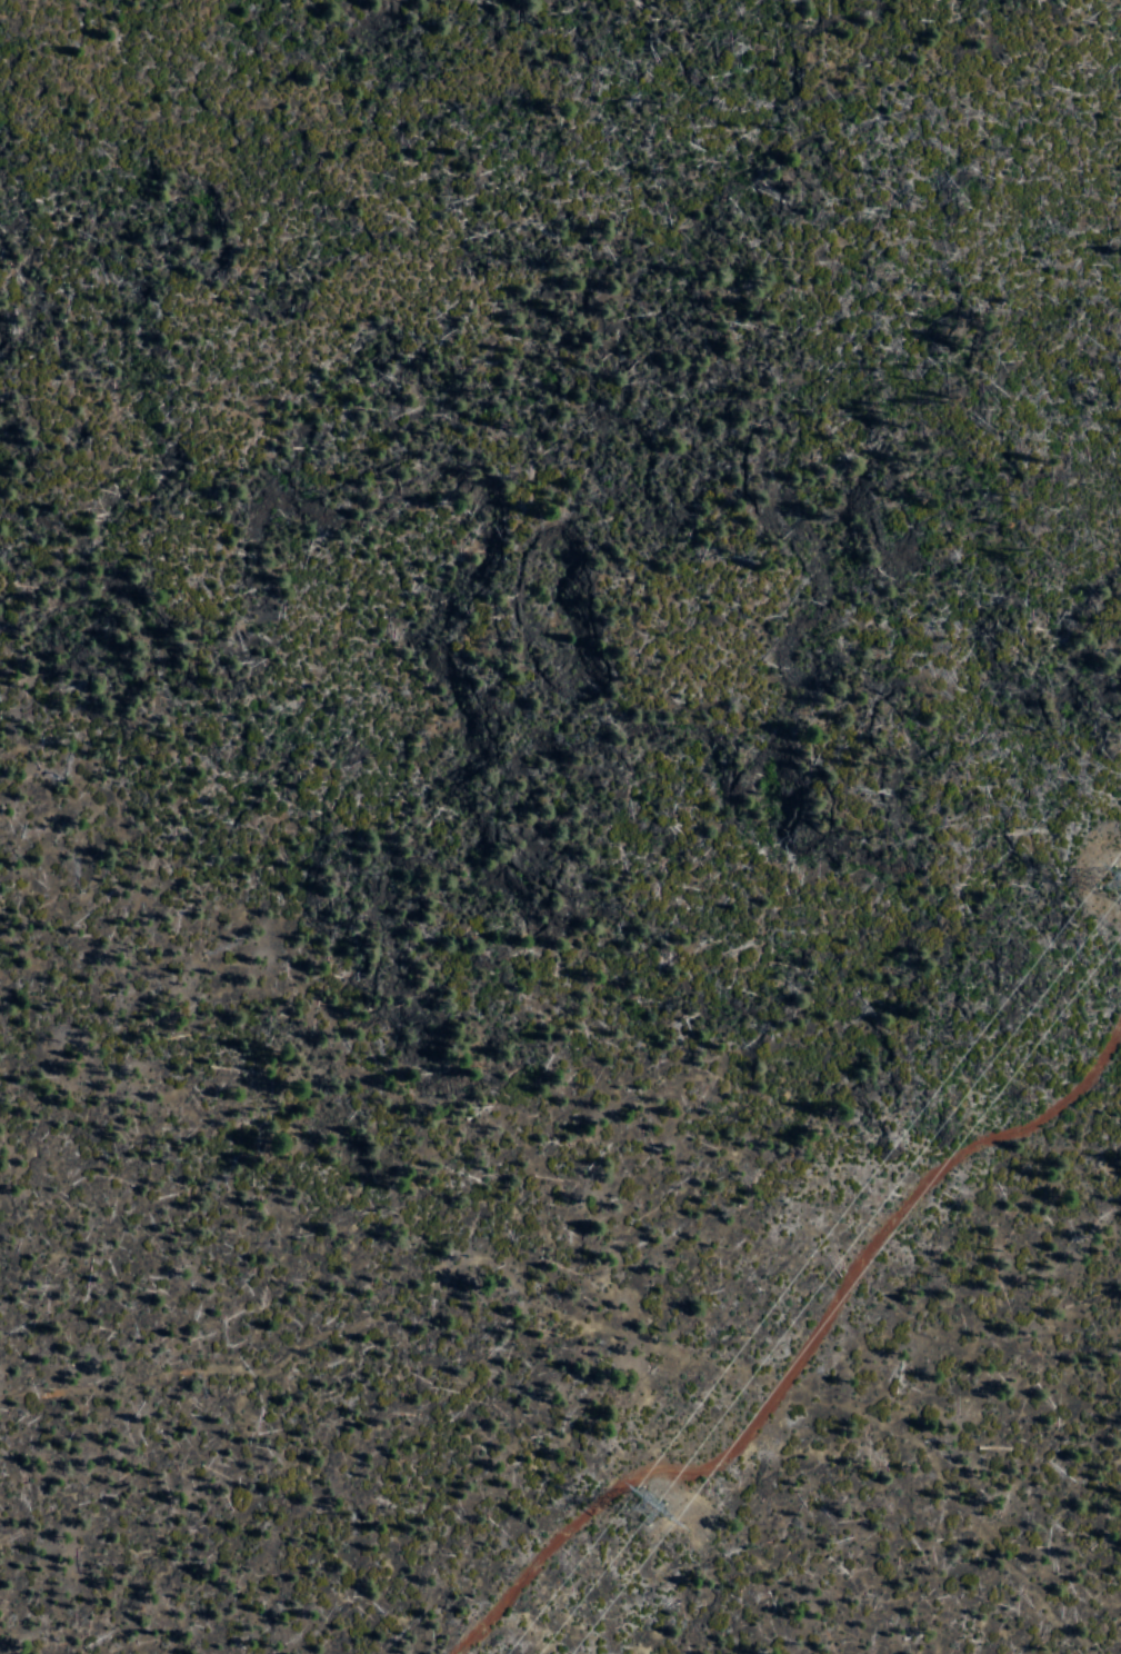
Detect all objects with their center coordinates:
power tower: (659, 1507)

